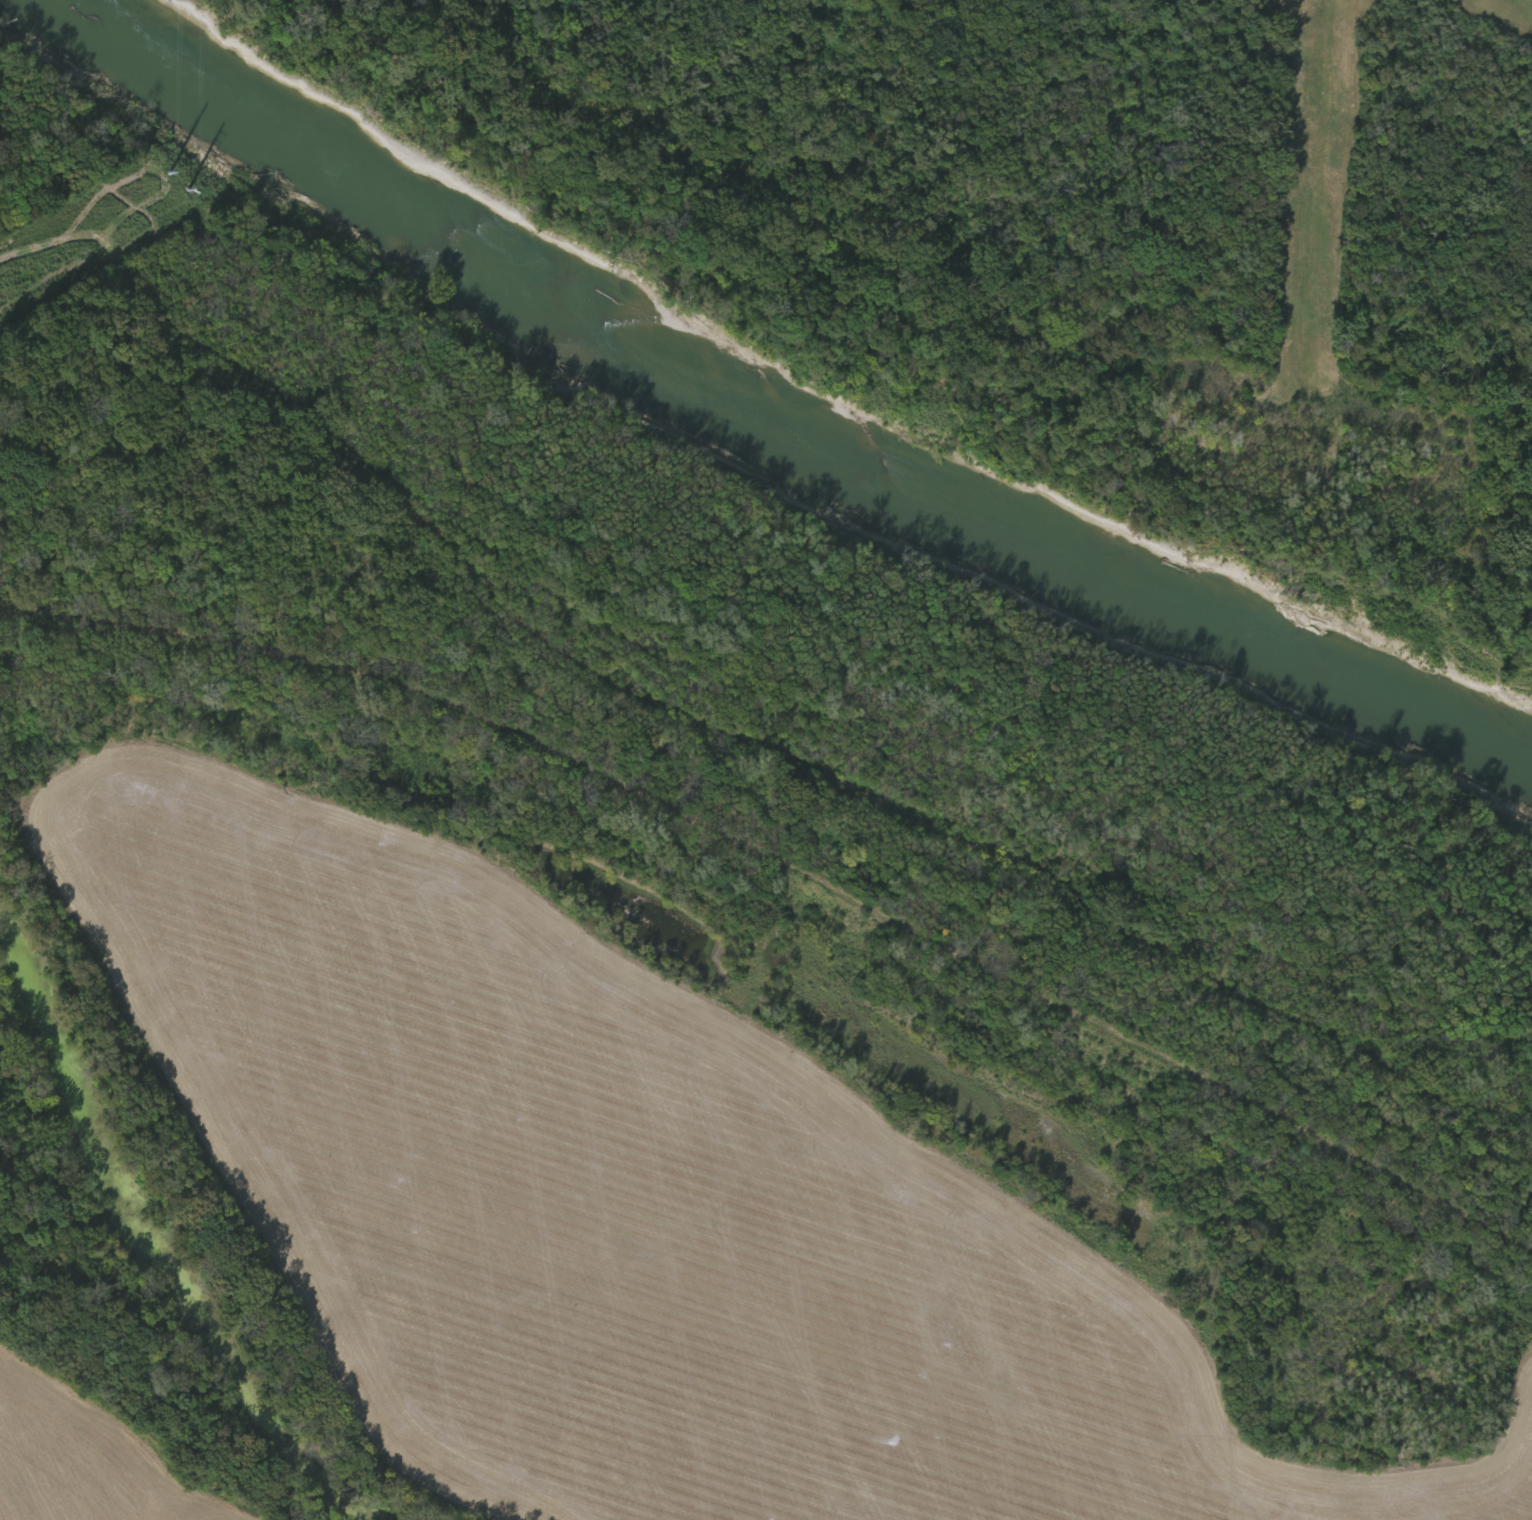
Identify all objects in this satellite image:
river: (788, 408)
crop: (671, 1181)

